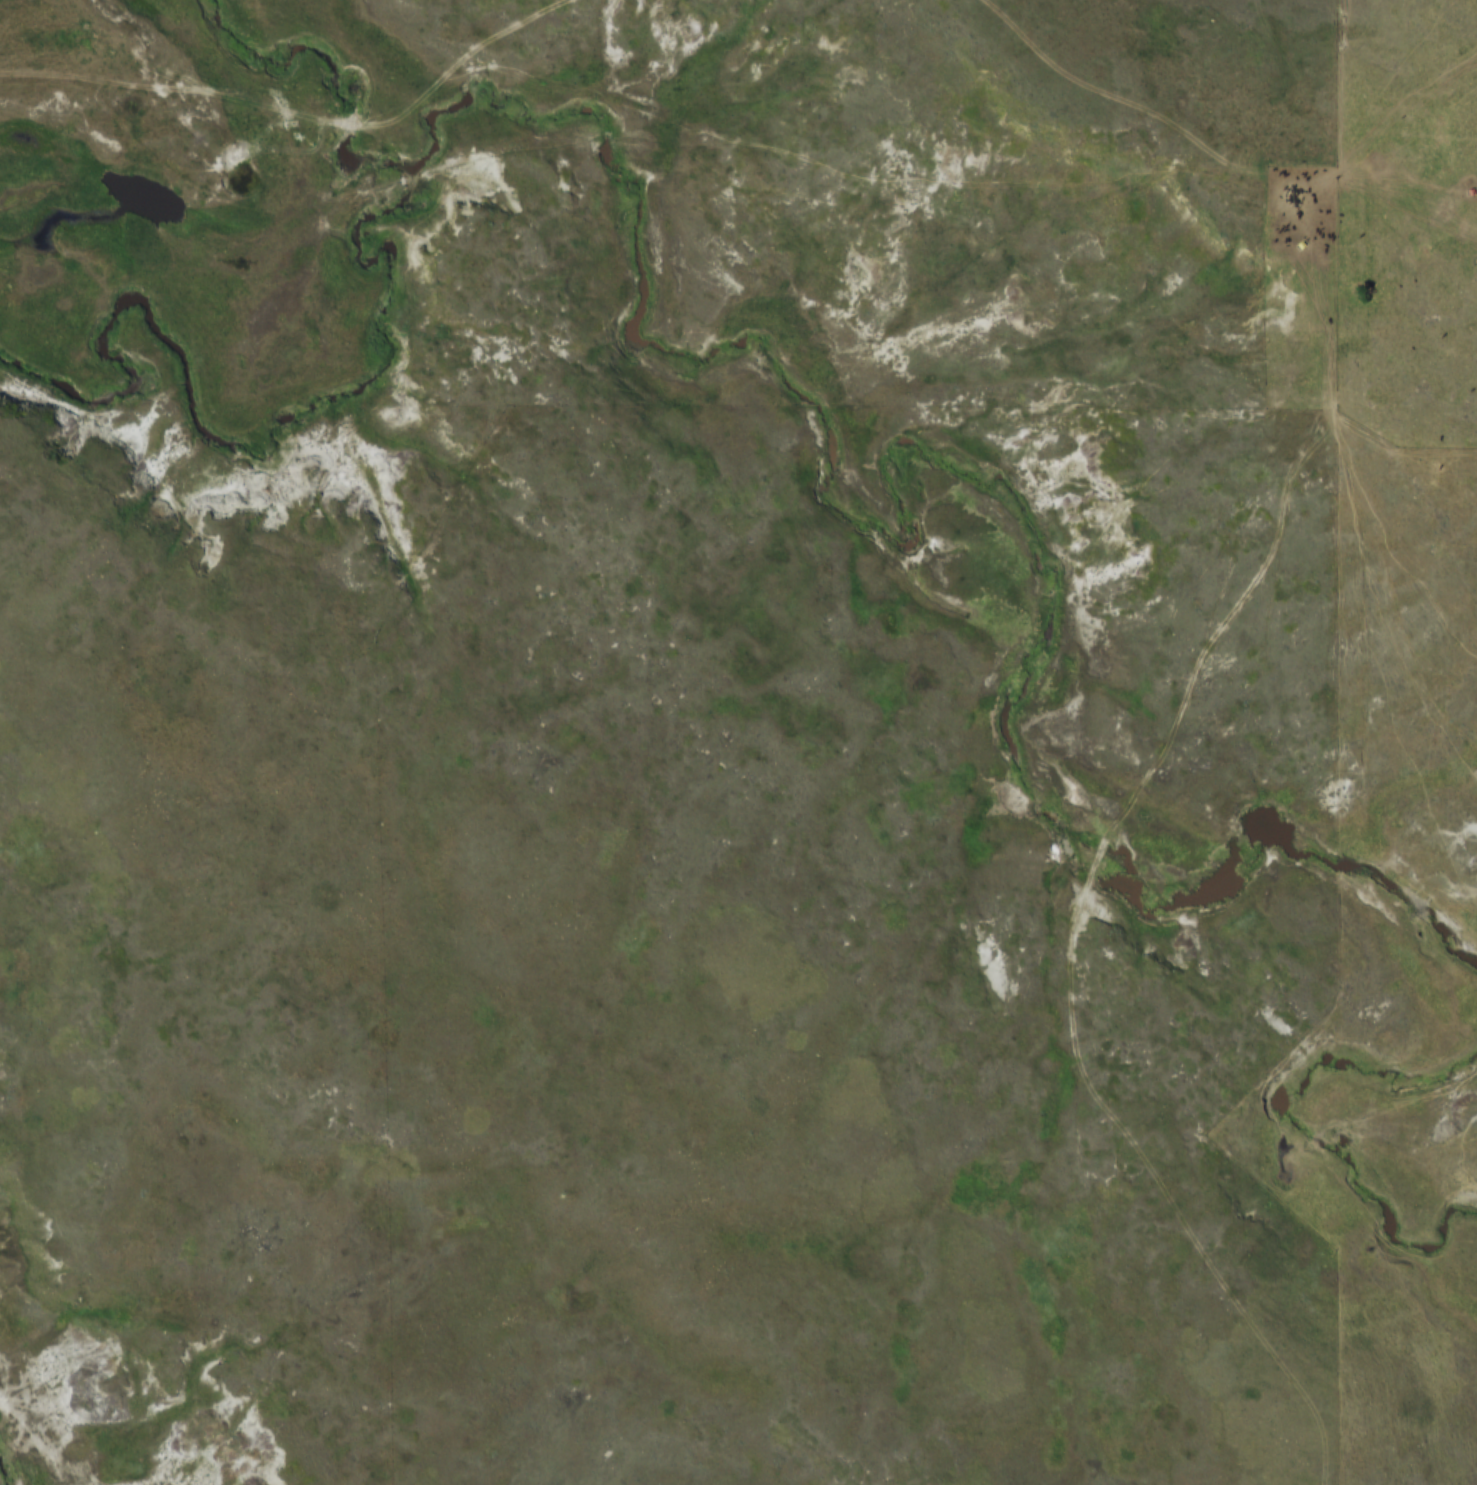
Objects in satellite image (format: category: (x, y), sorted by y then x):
road: (310, 107)
road: (1216, 155)

